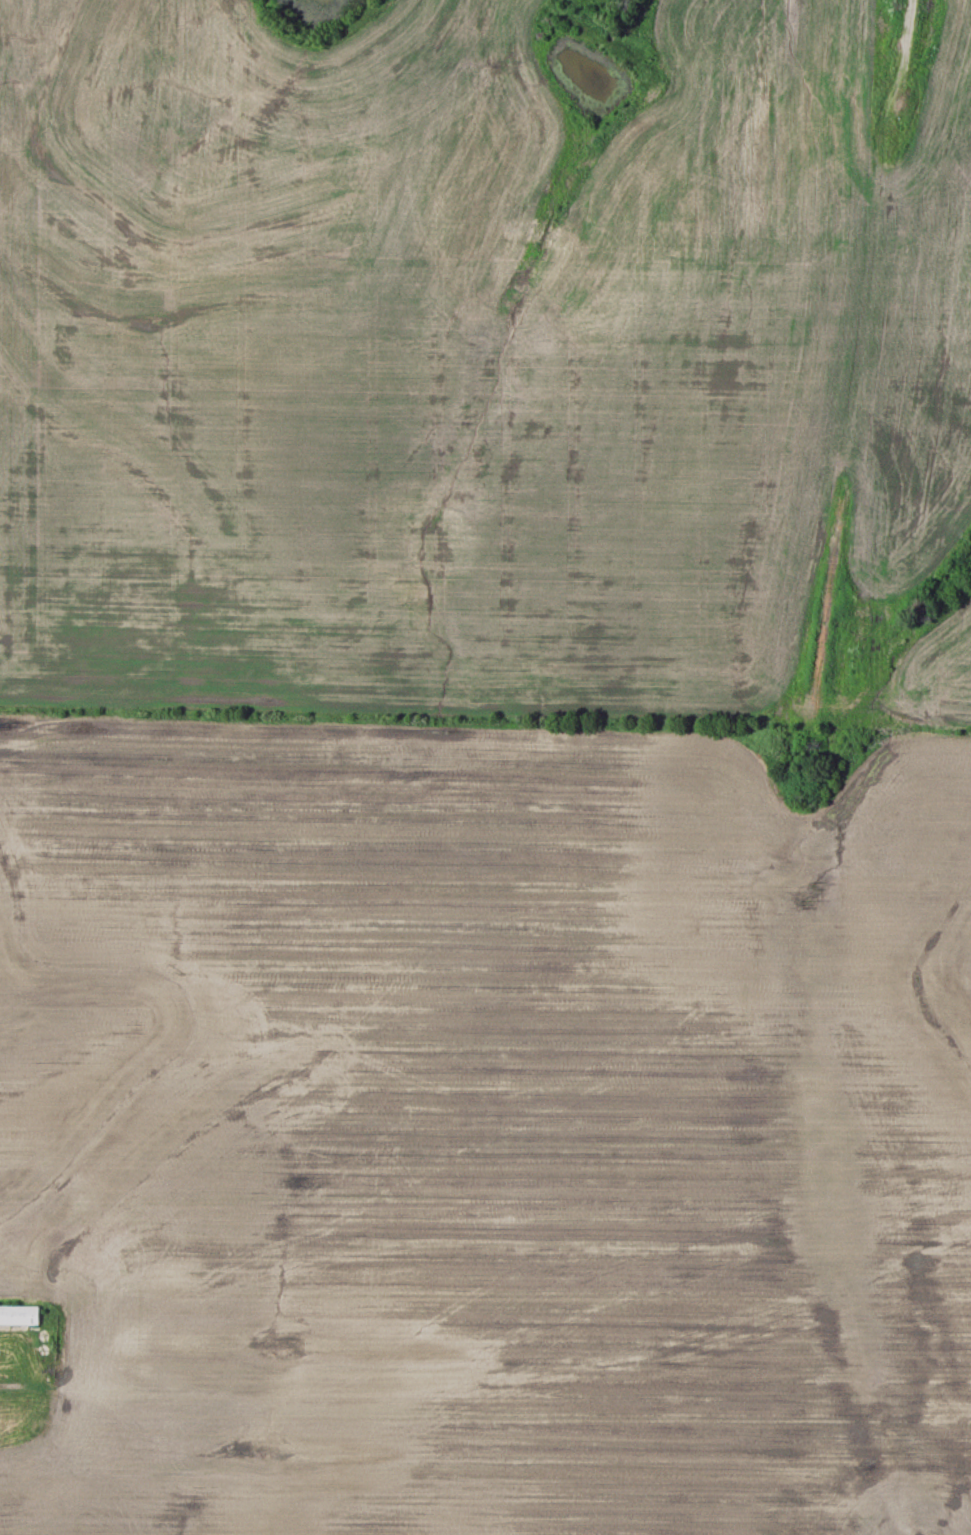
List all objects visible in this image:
road: (61, 1302)
building: (18, 1316)

